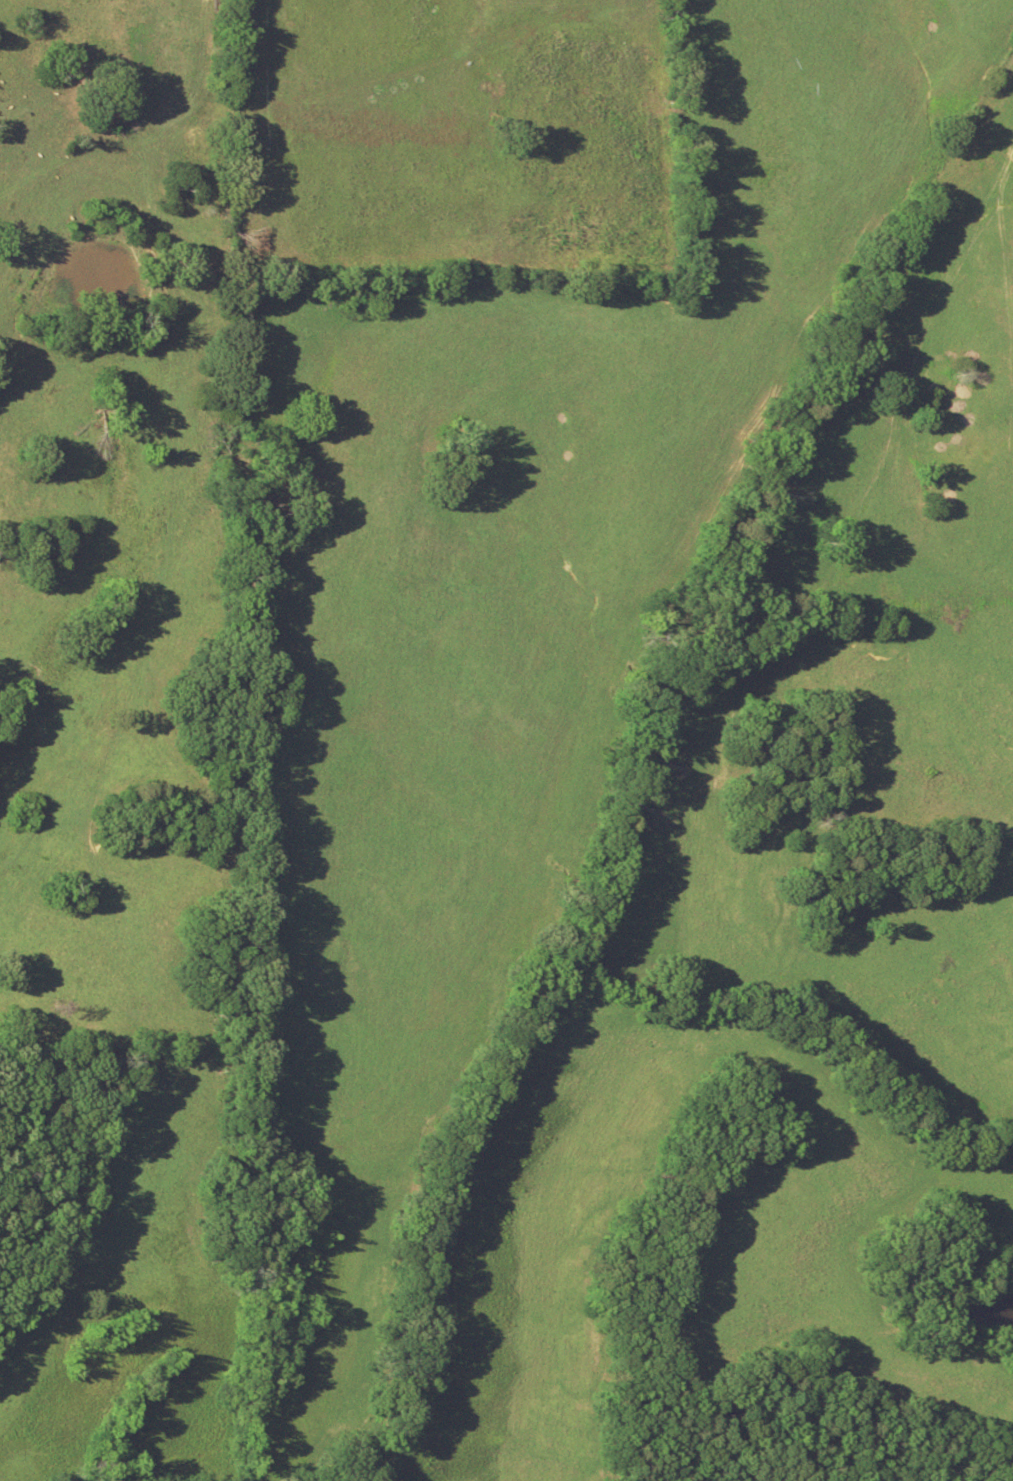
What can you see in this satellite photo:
road: (160, 175)
road: (231, 1413)

